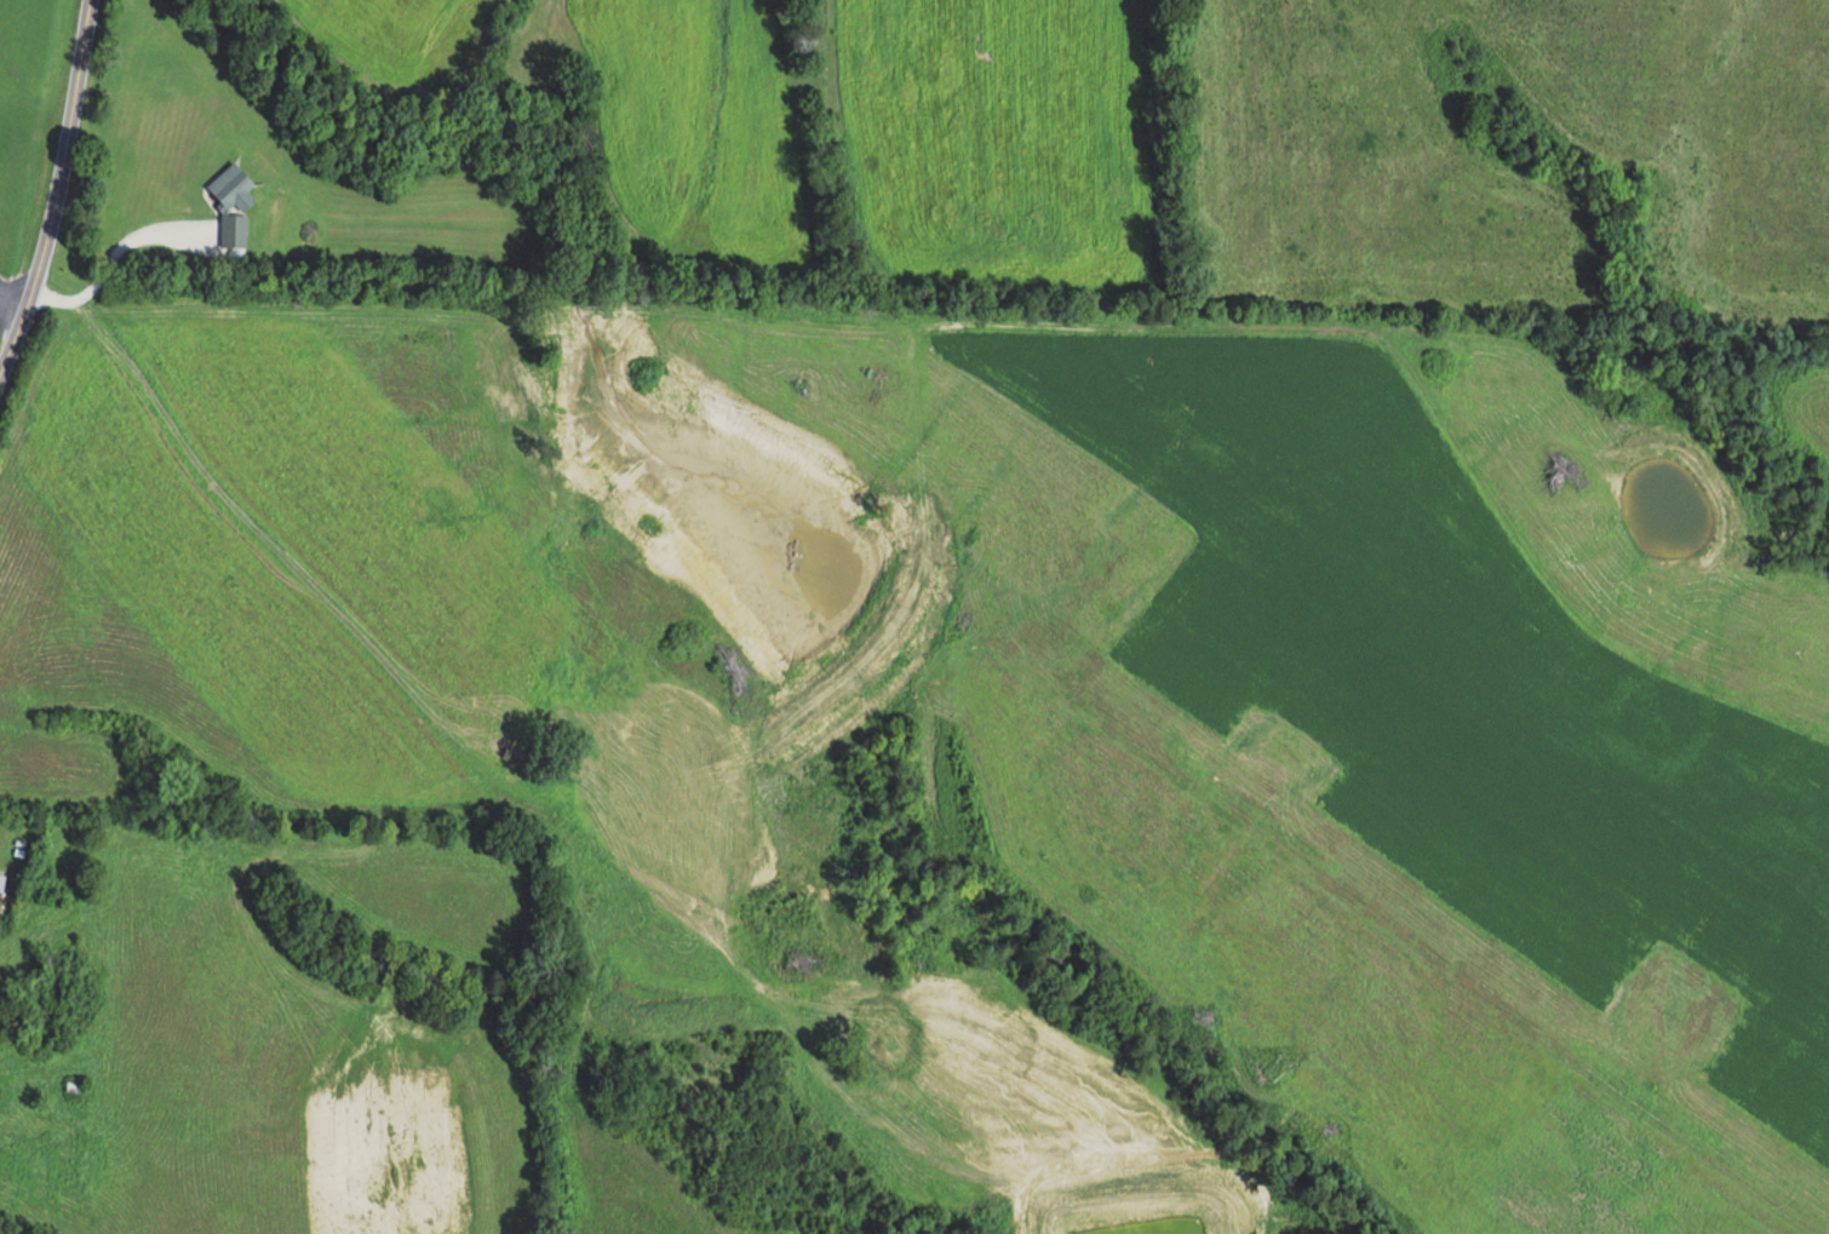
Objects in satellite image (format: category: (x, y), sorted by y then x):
road: (57, 184)
building: (233, 207)
building: (73, 1091)

